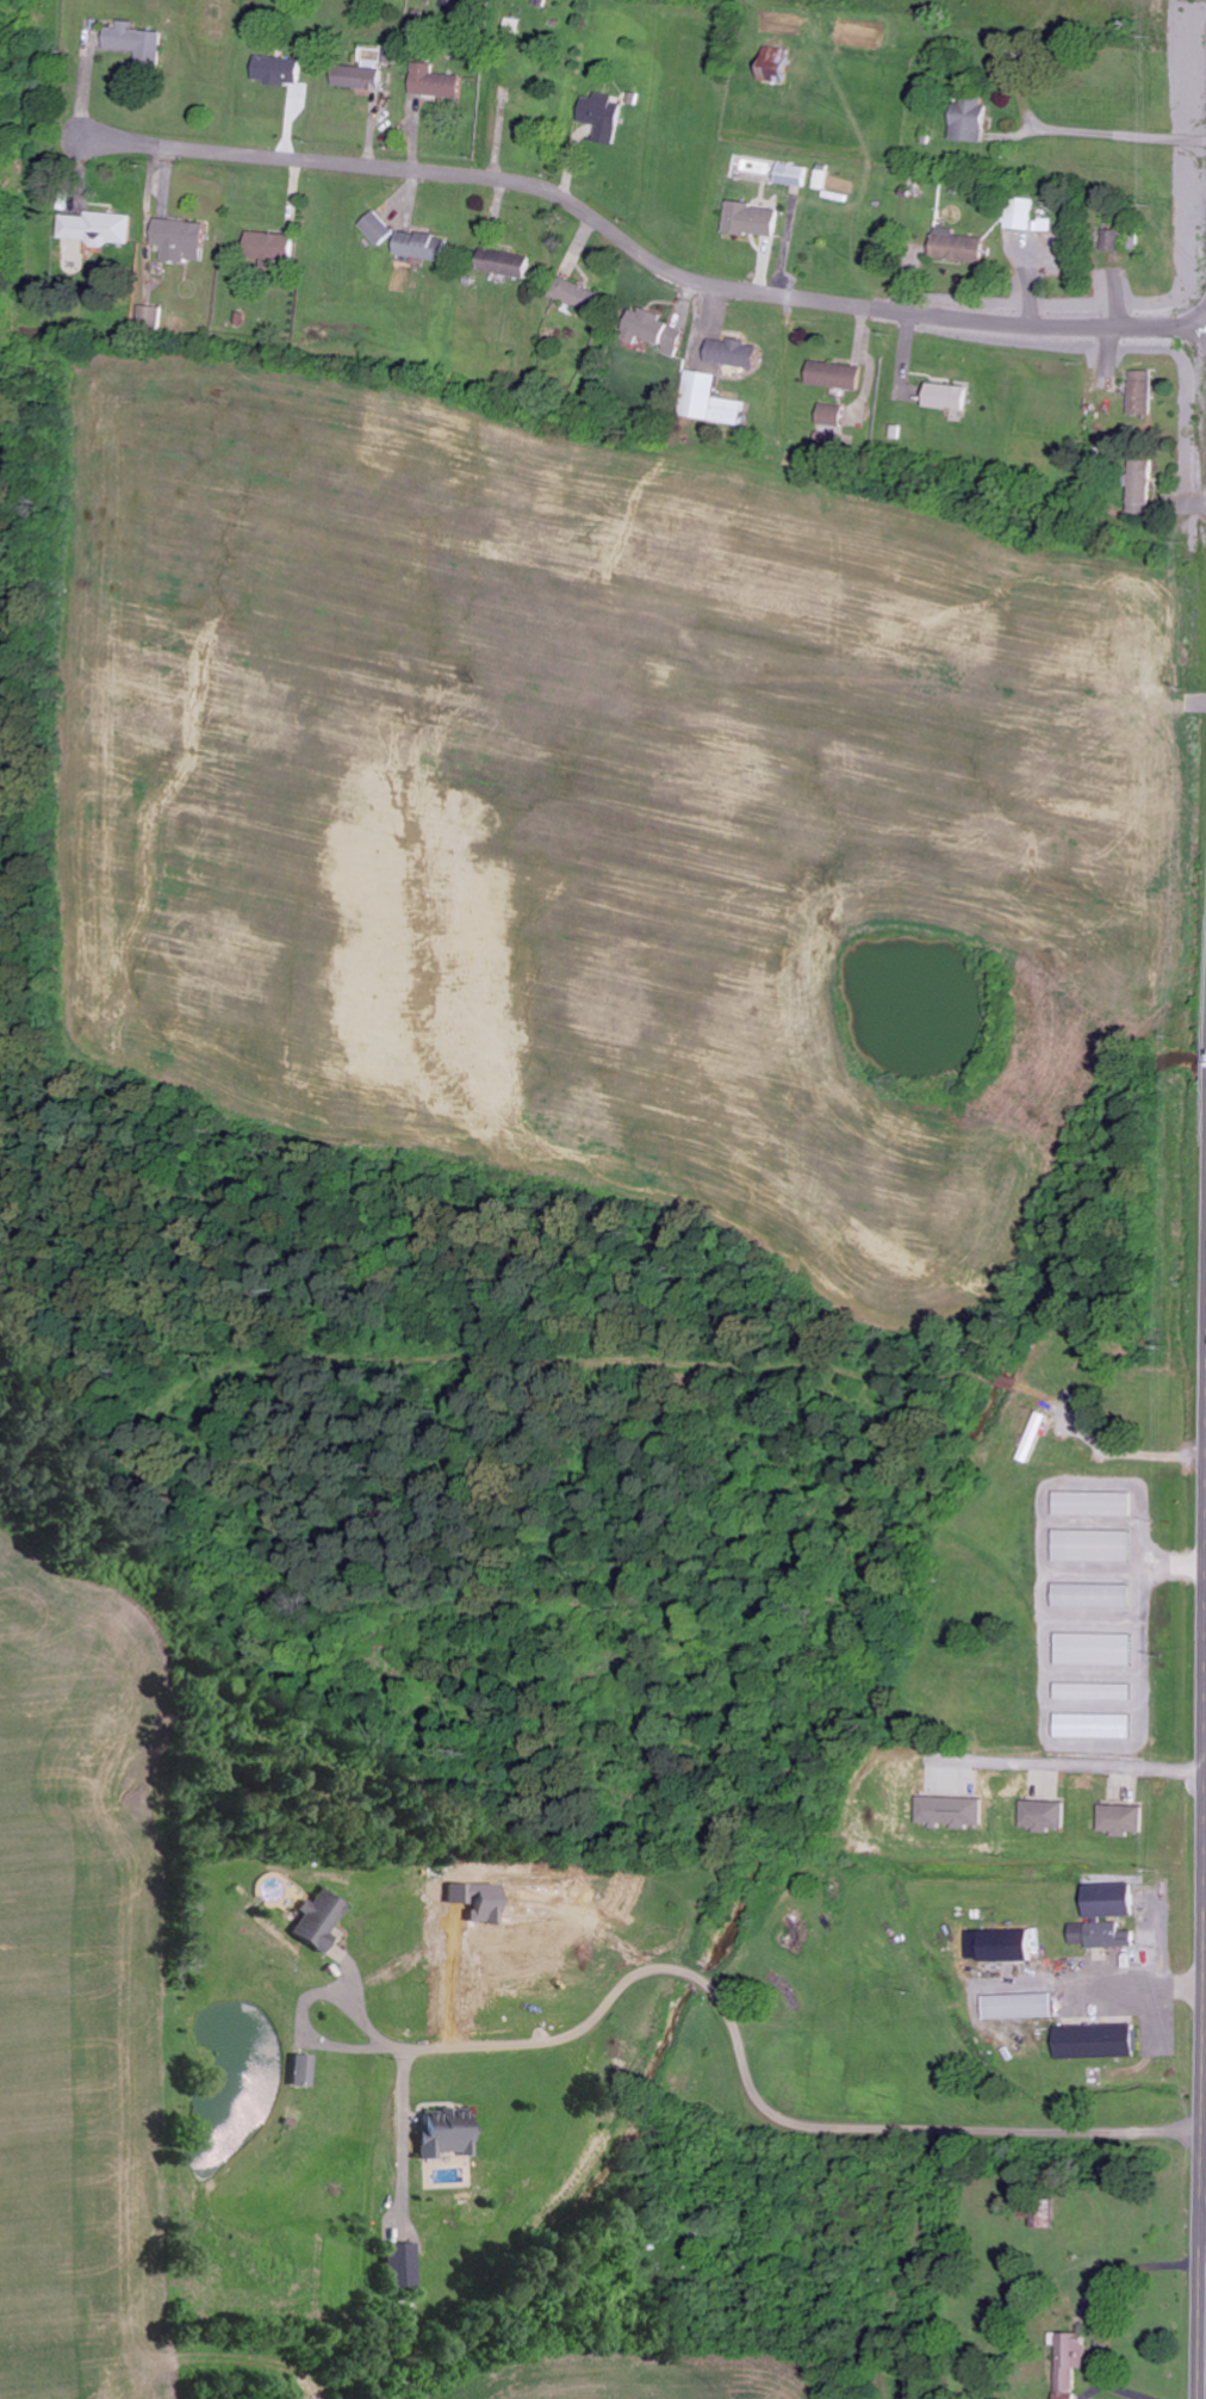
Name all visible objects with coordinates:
building: (139, 44)
building: (779, 63)
building: (281, 70)
building: (362, 76)
building: (440, 81)
building: (605, 114)
building: (977, 119)
building: (794, 175)
building: (1021, 215)
building: (757, 218)
building: (101, 228)
building: (380, 228)
building: (173, 230)
building: (1113, 240)
road: (634, 243)
building: (275, 247)
building: (424, 247)
building: (961, 247)
building: (510, 264)
building: (150, 318)
building: (660, 331)
building: (738, 353)
building: (838, 376)
building: (1146, 392)
building: (953, 396)
building: (714, 399)
building: (833, 415)
building: (1145, 486)
building: (1048, 1420)
building: (1098, 1504)
building: (1096, 1545)
building: (1096, 1595)
building: (1099, 1649)
building: (1098, 1691)
building: (1098, 1725)
building: (953, 1811)
building: (1045, 1815)
building: (1123, 1820)
building: (1109, 1916)
building: (321, 1920)
building: (1005, 1945)
building: (1024, 2006)
road: (1202, 2008)
building: (1101, 2041)
building: (304, 2069)
building: (450, 2133)
building: (1038, 2213)
road: (1204, 2227)
building: (405, 2265)
building: (1074, 2362)

